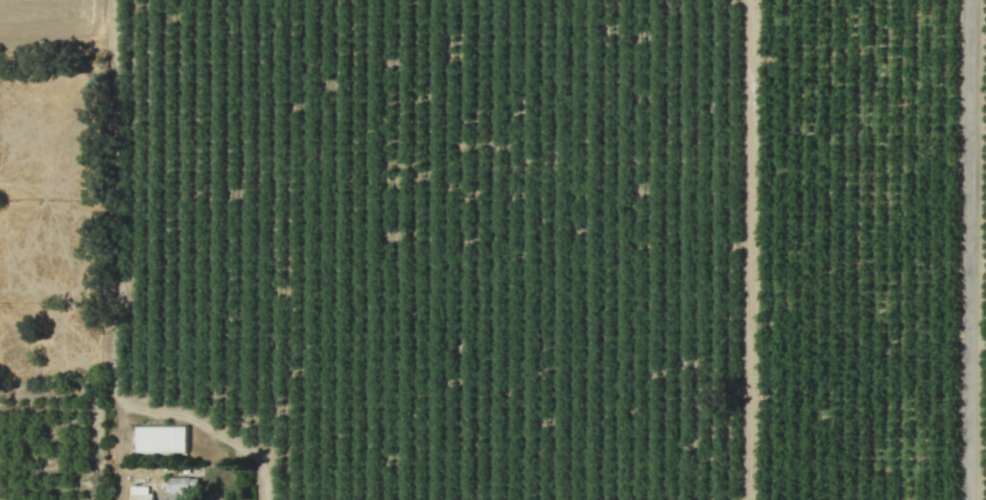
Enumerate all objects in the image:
road: (968, 250)
building: (164, 439)
building: (183, 485)
building: (142, 493)
road: (173, 498)

